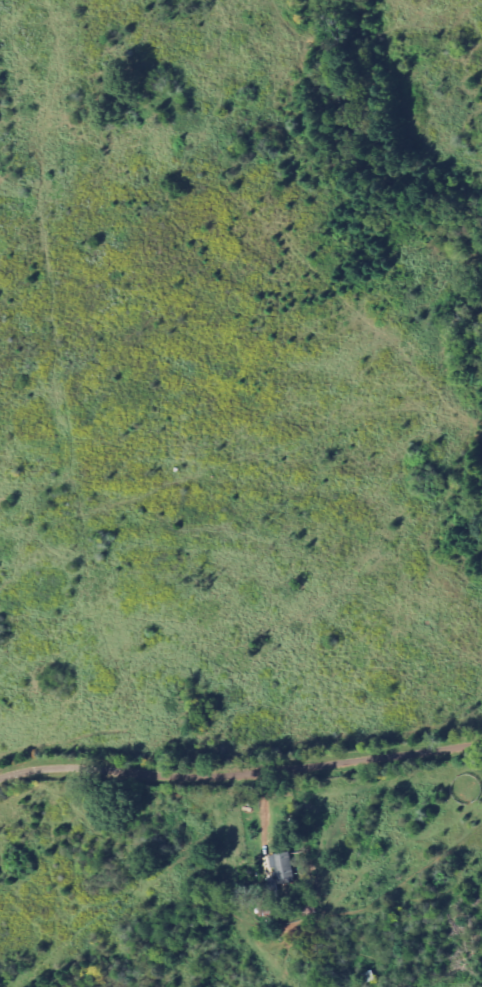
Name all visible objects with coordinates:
road: (239, 784)
building: (285, 866)

